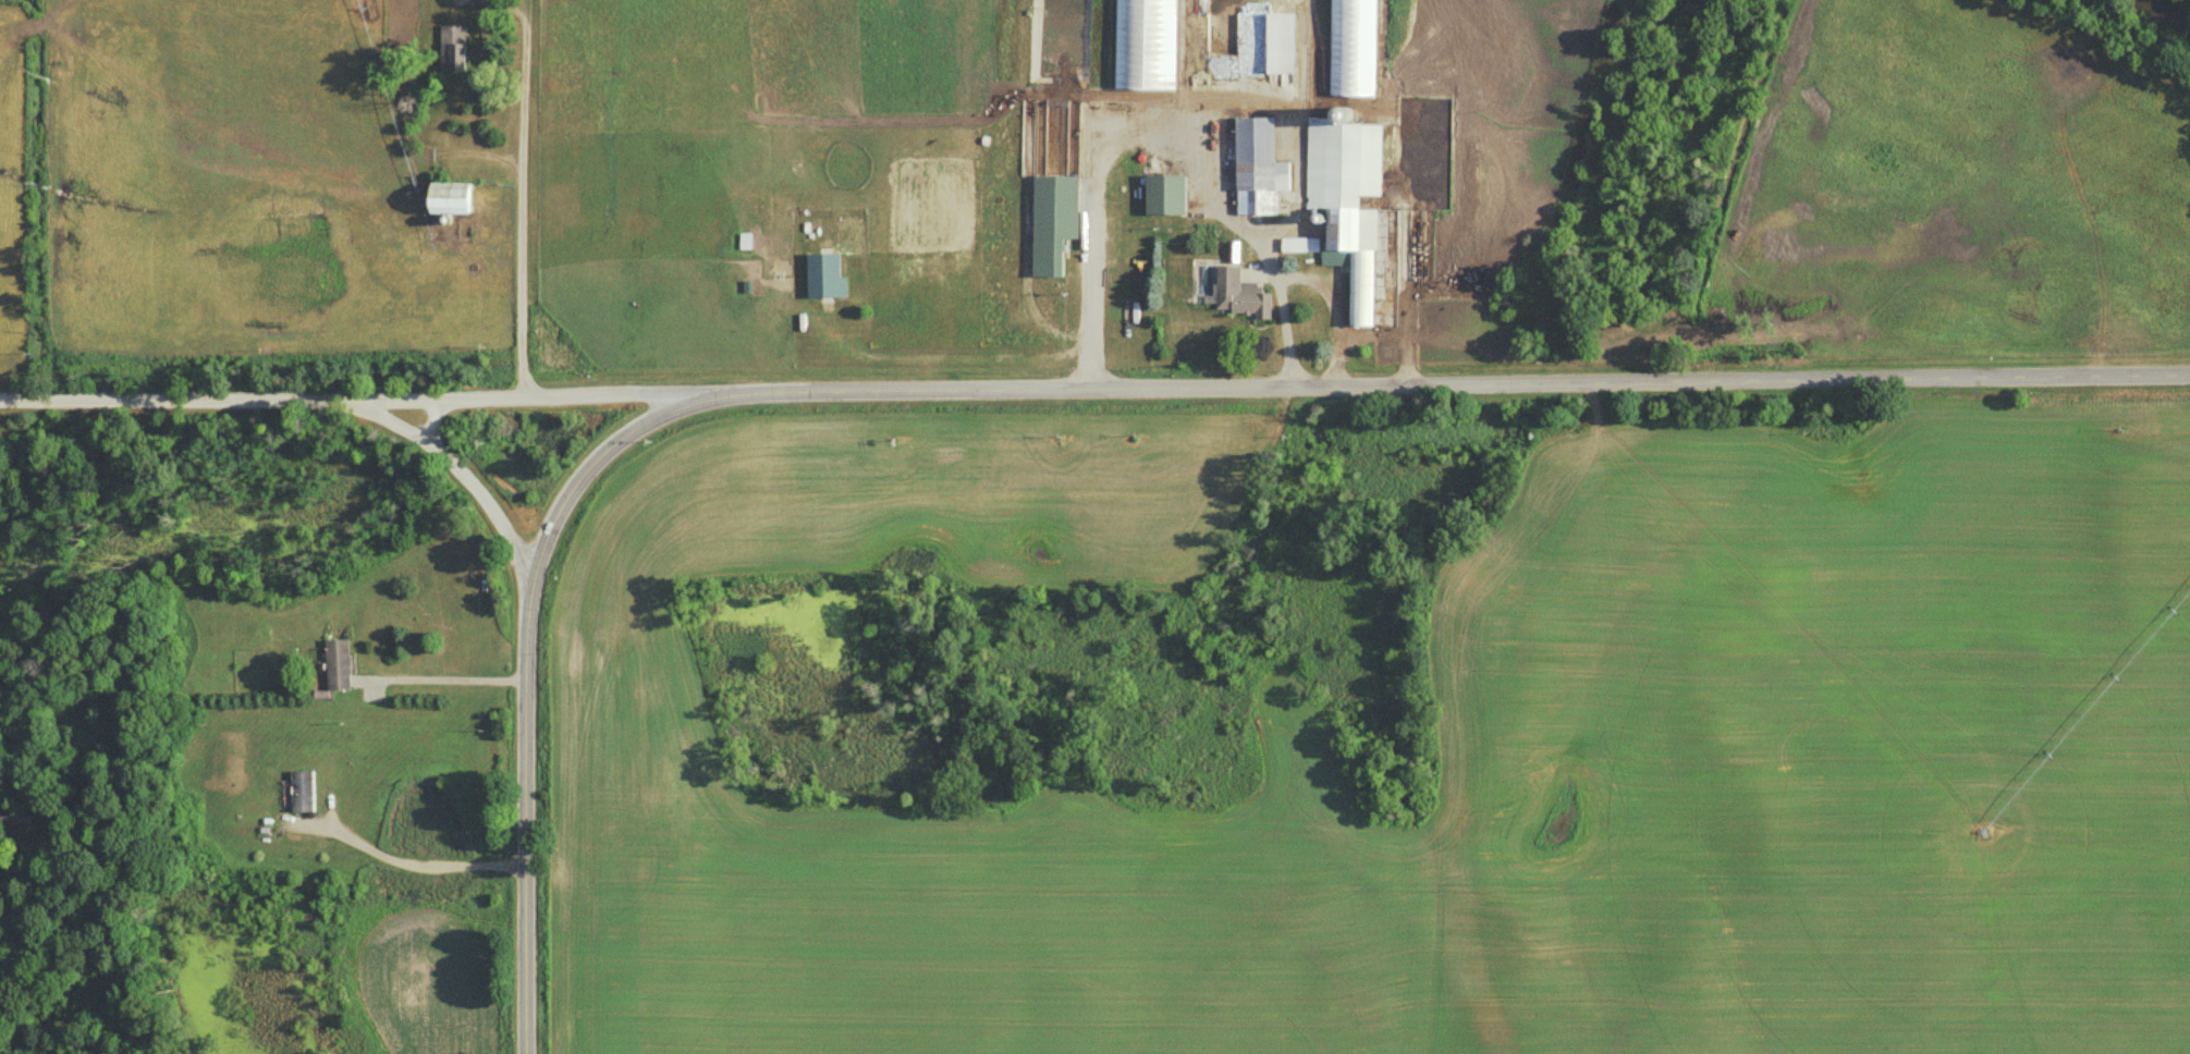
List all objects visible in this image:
river: (2164, 11)
building: (1152, 45)
building: (1285, 45)
building: (456, 49)
building: (1358, 49)
road: (1161, 133)
building: (1262, 169)
building: (1171, 196)
building: (1350, 199)
building: (455, 200)
road: (518, 206)
building: (1059, 223)
building: (1305, 246)
building: (1237, 253)
building: (1245, 296)
road: (1334, 307)
road: (1470, 384)
road: (552, 396)
road: (176, 401)
road: (605, 451)
road: (461, 475)
building: (343, 667)
road: (449, 678)
building: (306, 794)
road: (526, 820)
building: (19, 824)
road: (419, 861)

